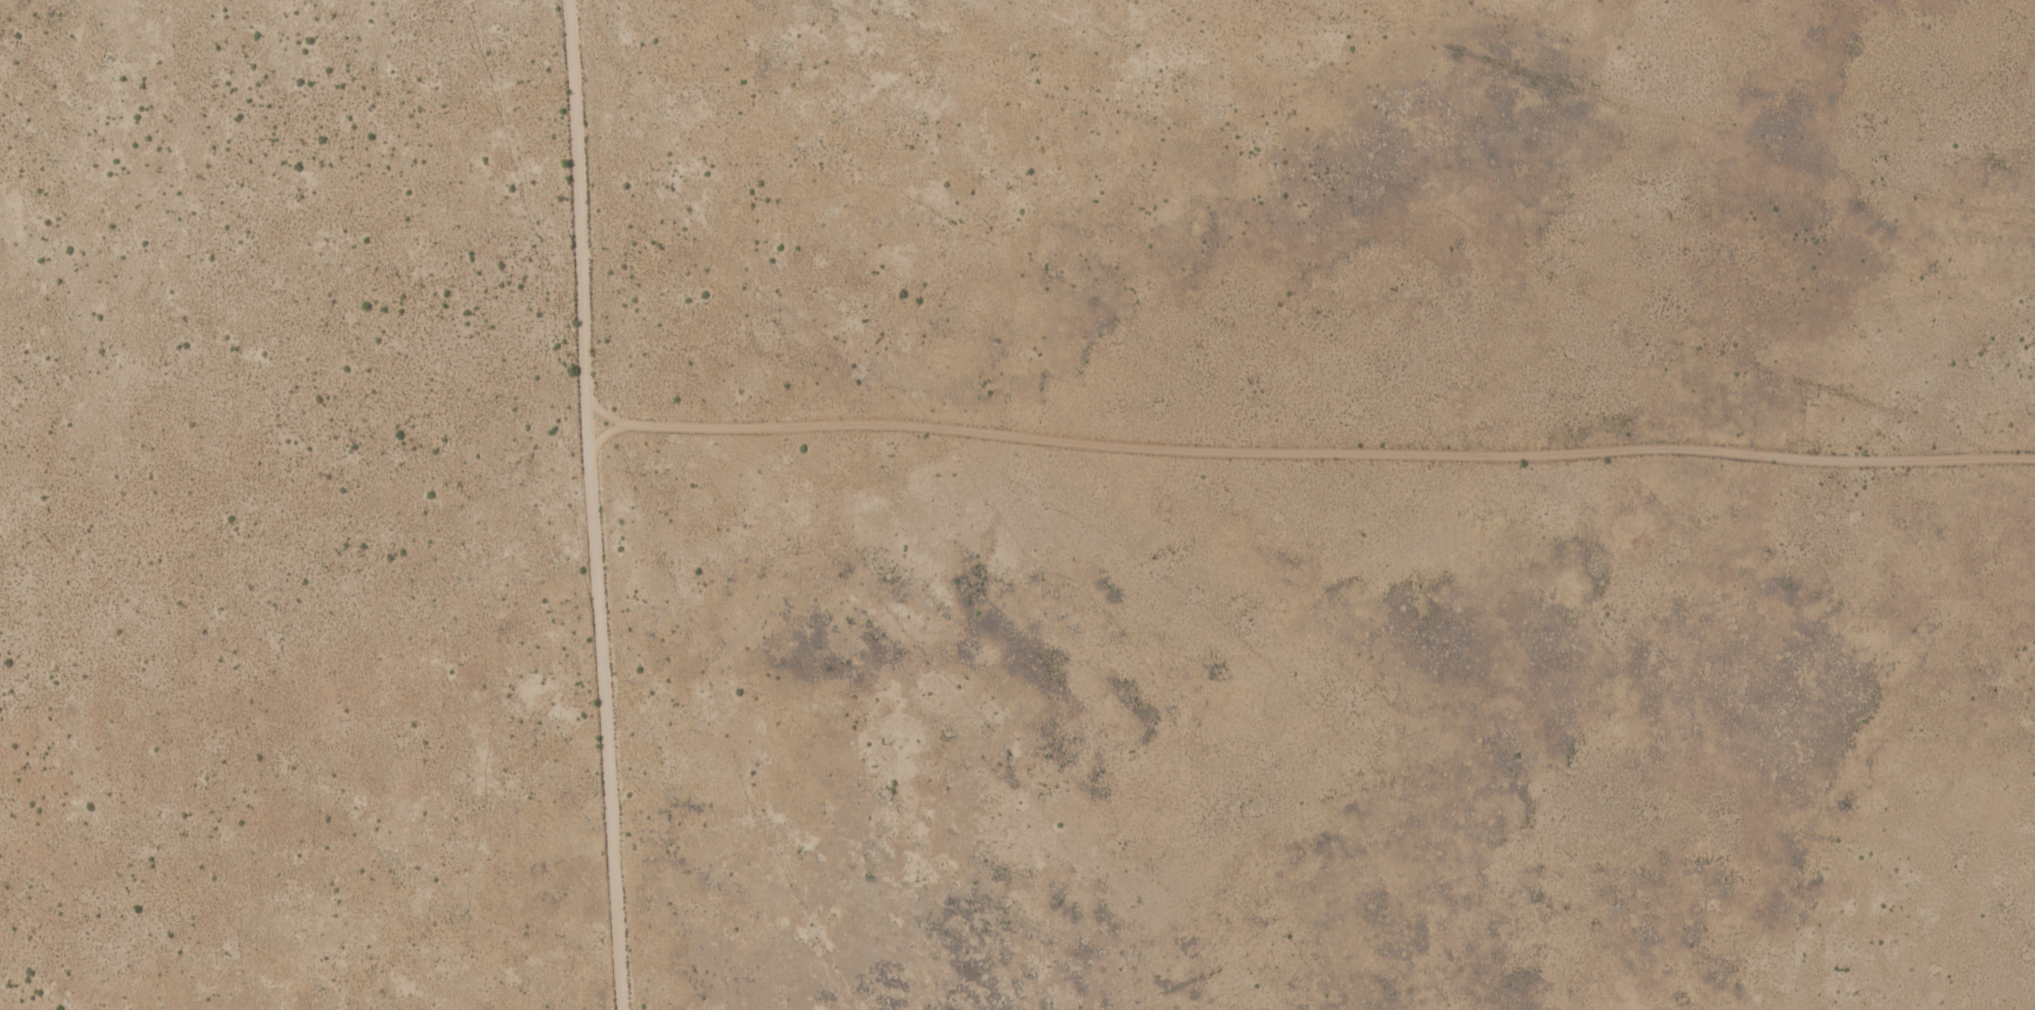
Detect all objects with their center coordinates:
road: (1310, 450)
road: (588, 505)

